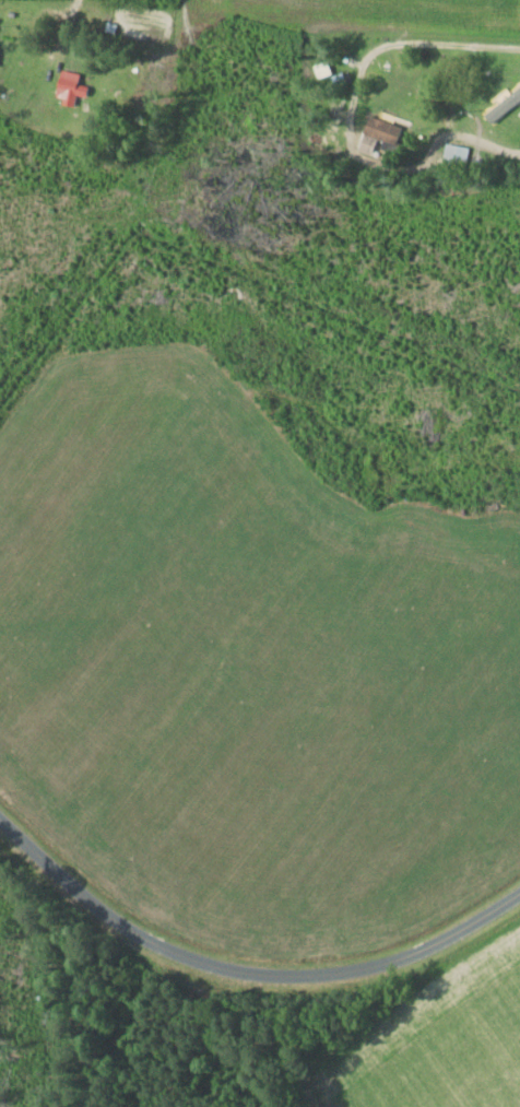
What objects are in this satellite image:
building: (68, 86)
building: (380, 130)
building: (454, 154)
road: (245, 970)

